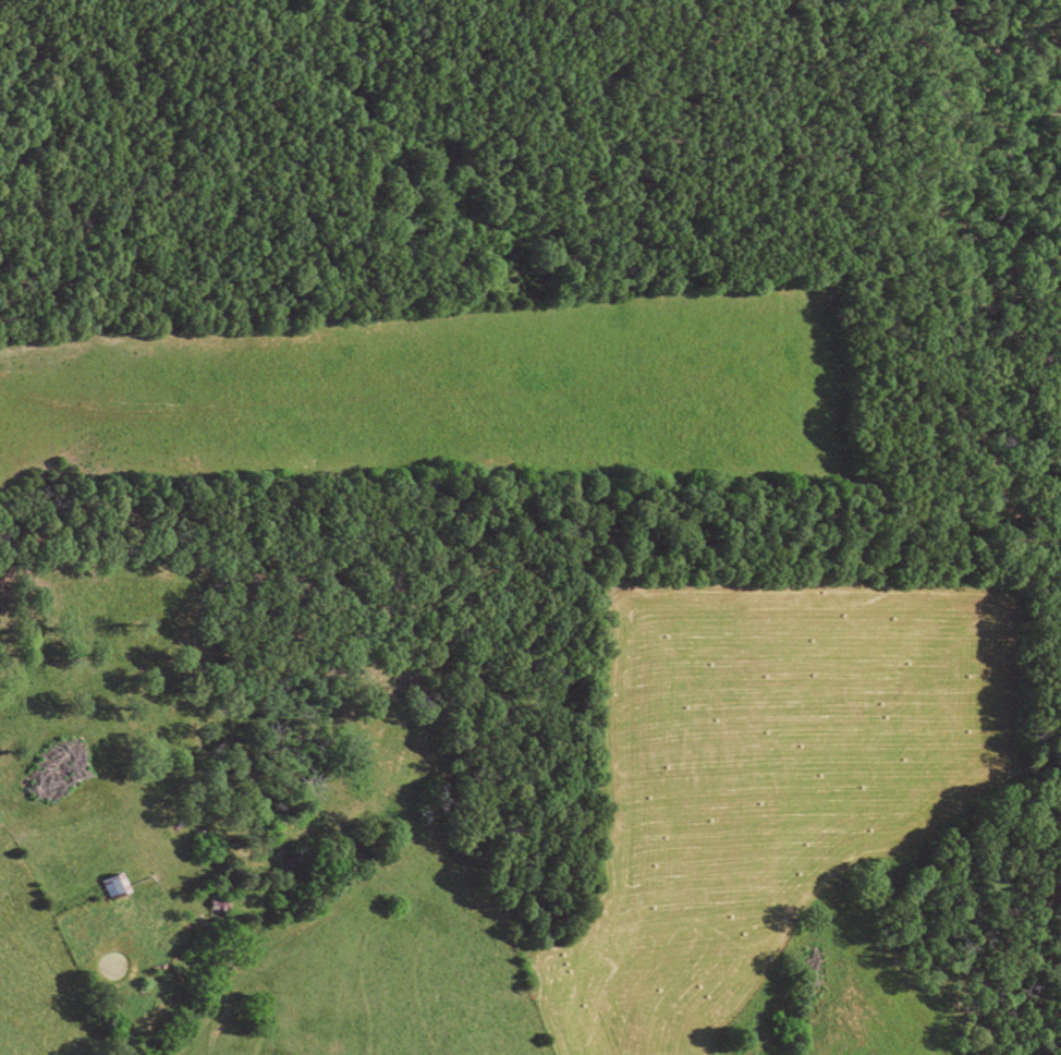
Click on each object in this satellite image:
road: (391, 892)

